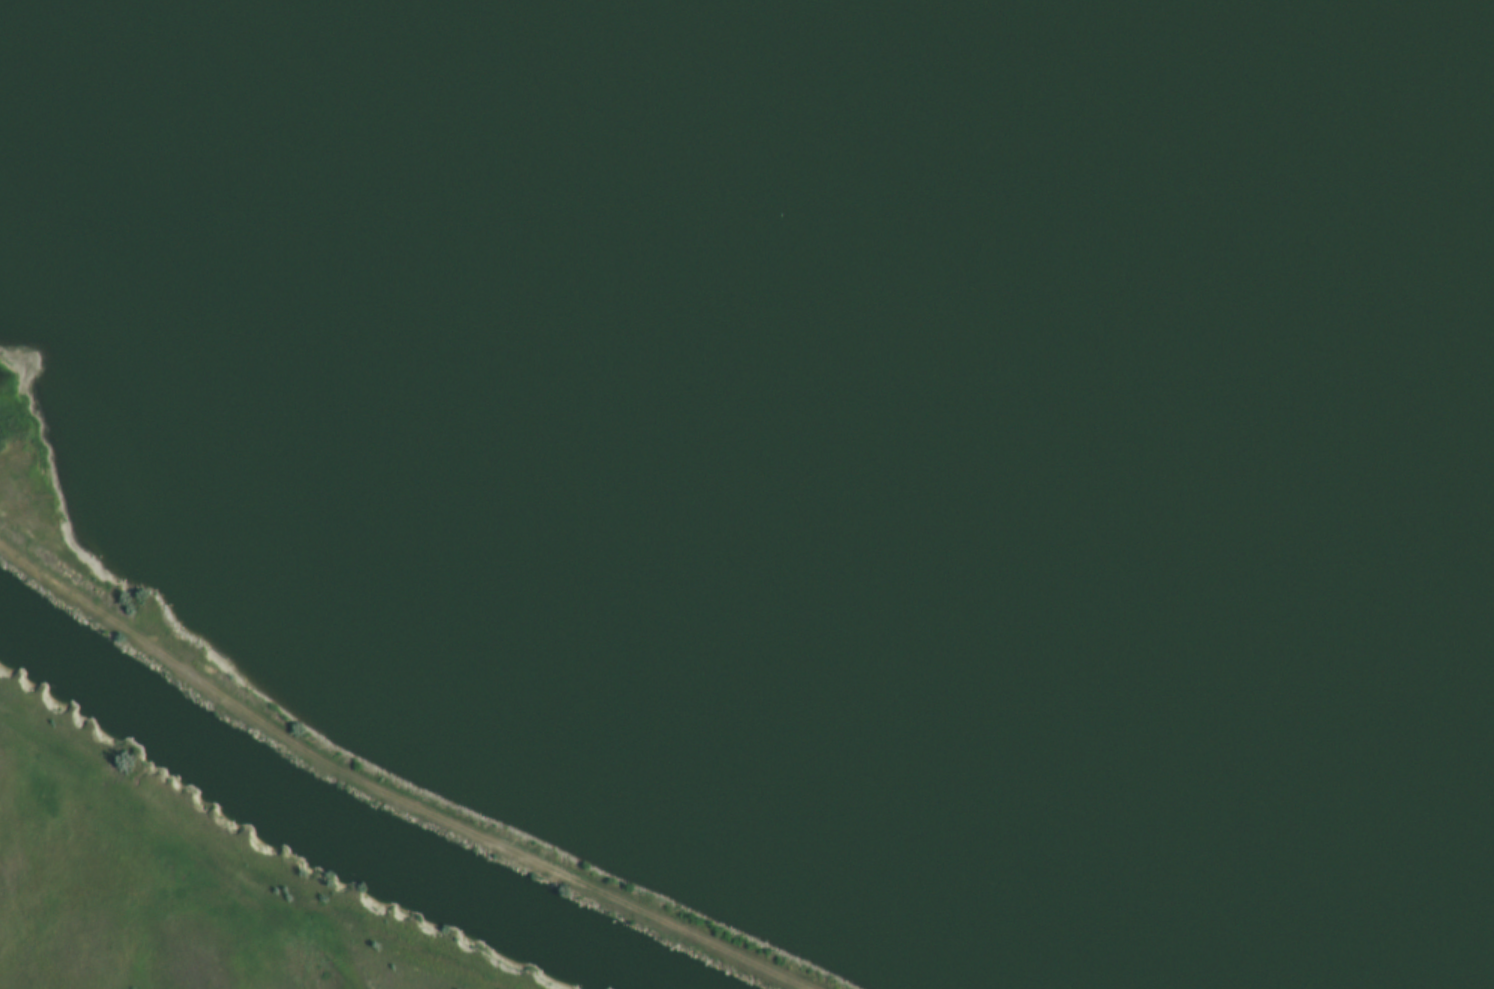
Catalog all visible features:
road: (379, 796)

